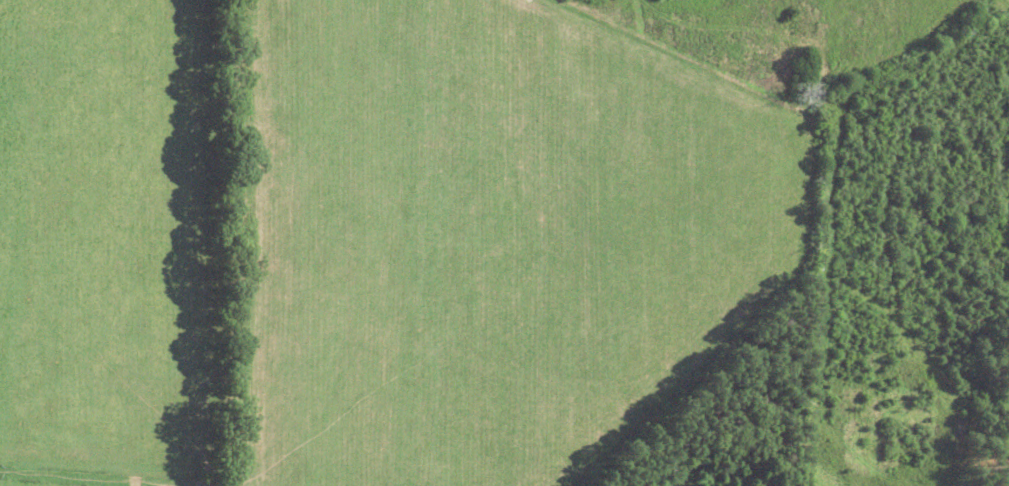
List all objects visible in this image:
road: (23, 167)

